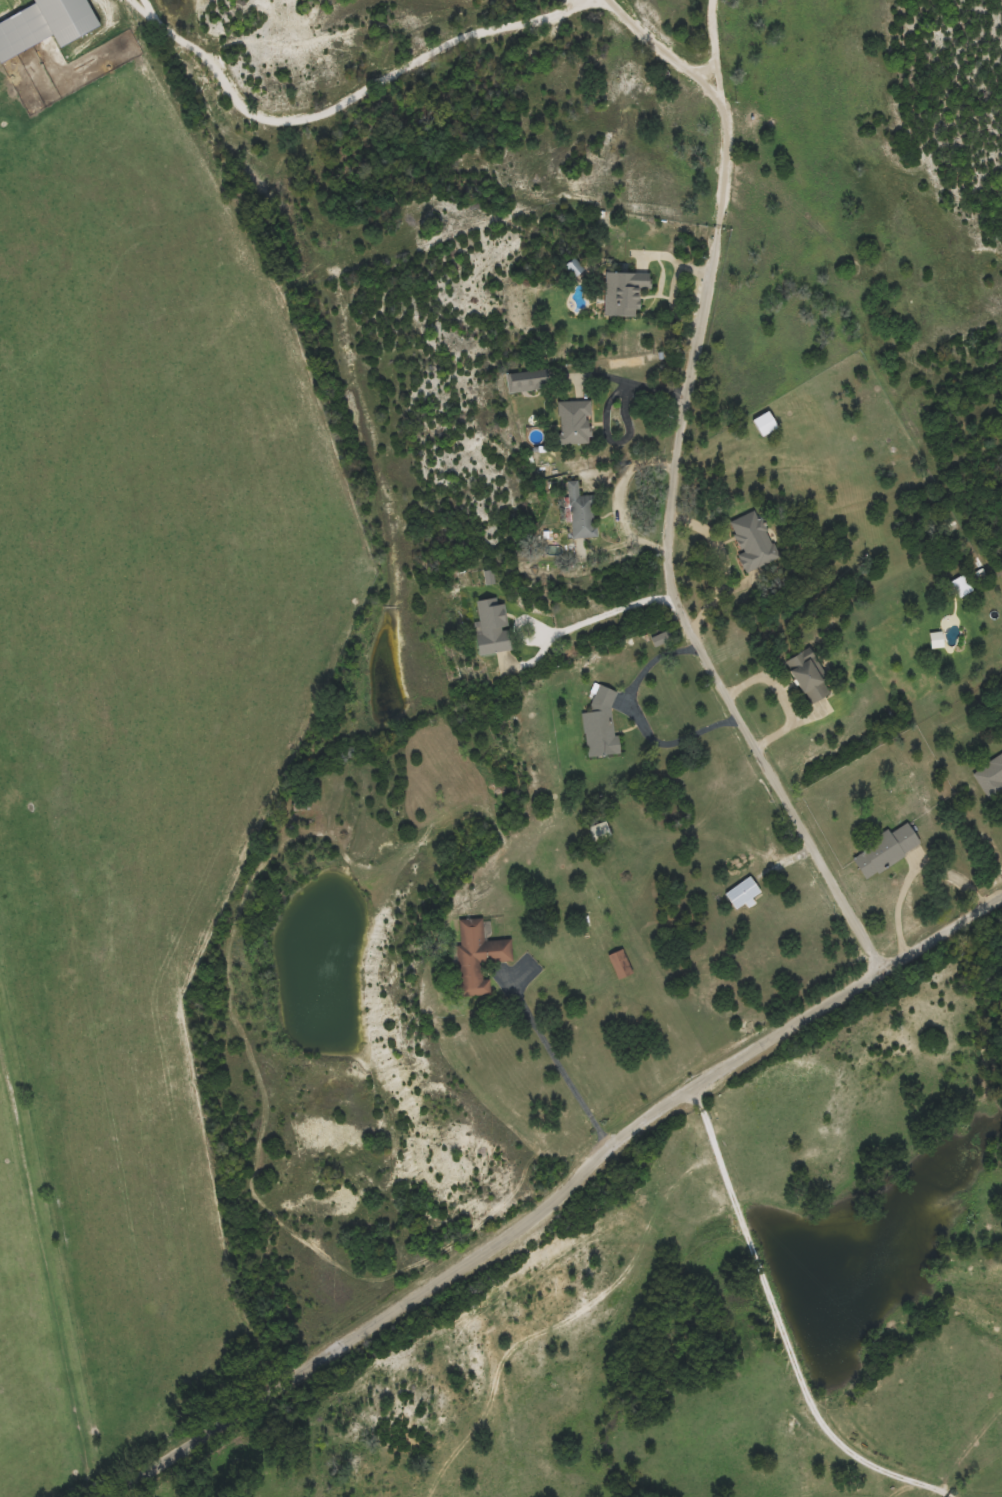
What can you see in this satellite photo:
building: (48, 26)
road: (470, 257)
building: (619, 292)
building: (517, 385)
building: (568, 422)
building: (761, 424)
building: (544, 463)
building: (577, 514)
building: (750, 541)
building: (959, 586)
building: (485, 628)
building: (804, 676)
building: (596, 725)
road: (746, 725)
building: (988, 776)
building: (596, 831)
building: (881, 850)
building: (740, 893)
road: (944, 937)
building: (471, 957)
building: (618, 964)
road: (793, 1028)
road: (414, 1300)
road: (782, 1322)
road: (987, 1491)

